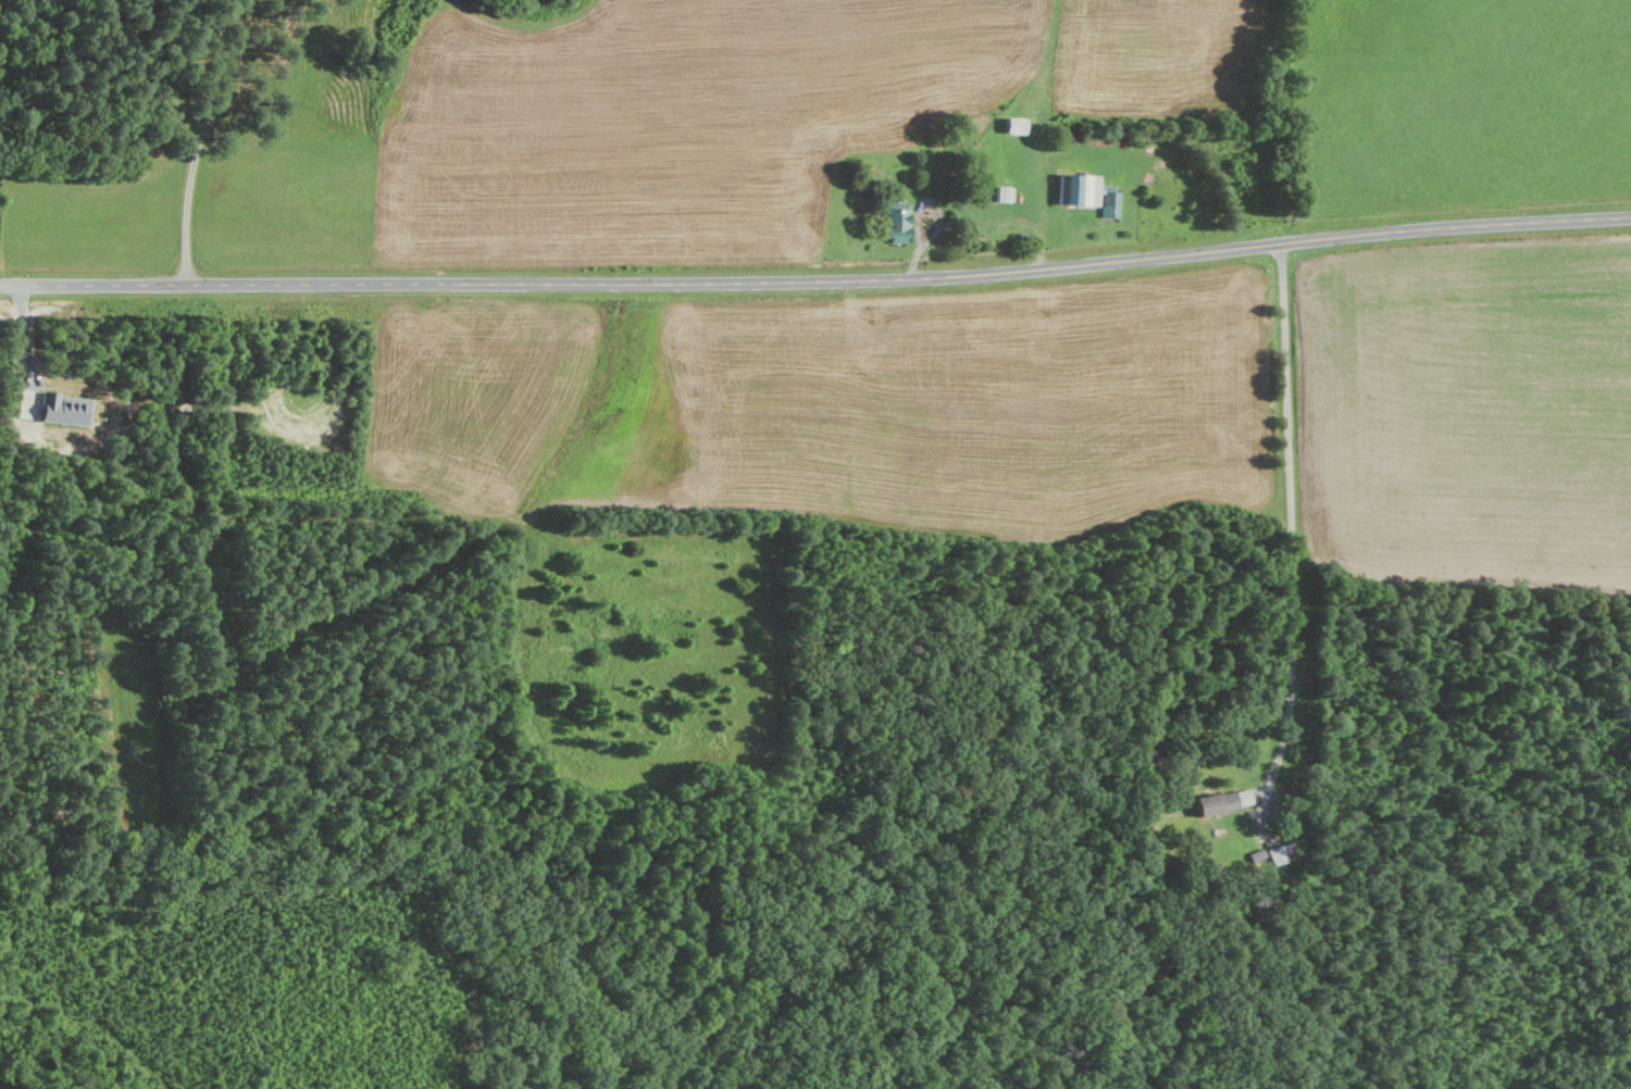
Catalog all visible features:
road: (200, 140)
building: (1082, 191)
building: (900, 220)
road: (817, 279)
road: (1290, 518)
building: (1221, 802)

